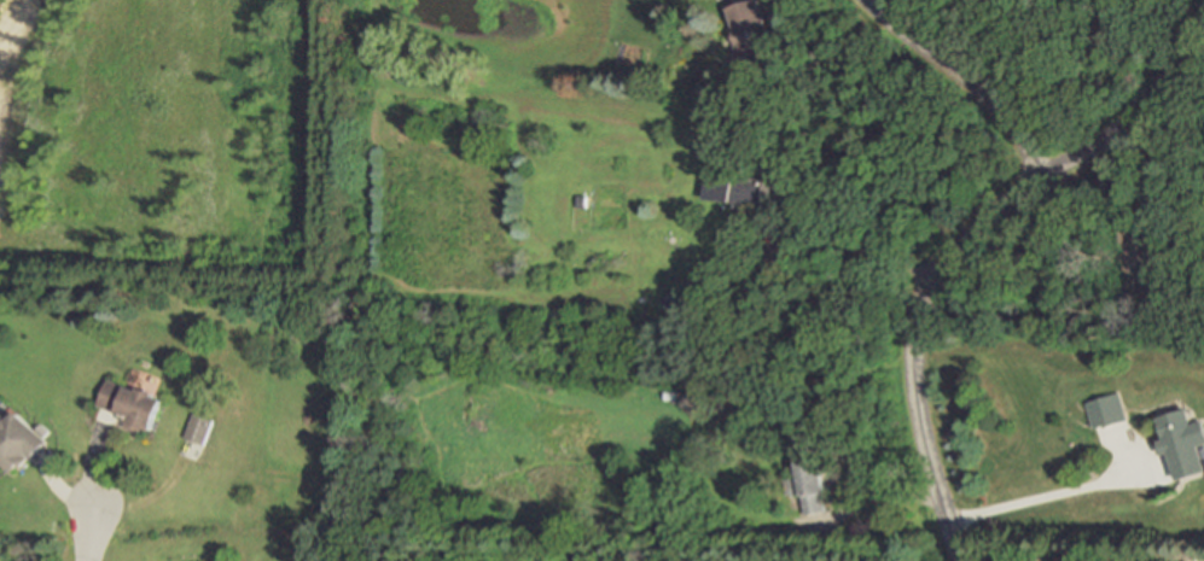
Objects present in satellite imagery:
building: (750, 35)
road: (969, 78)
road: (1138, 112)
quarry: (169, 148)
road: (1154, 154)
building: (756, 192)
road: (857, 246)
road: (914, 343)
building: (132, 403)
building: (1106, 410)
building: (200, 427)
building: (17, 440)
building: (1181, 446)
building: (740, 448)
building: (809, 480)
road: (1053, 497)
road: (884, 504)
road: (88, 534)

